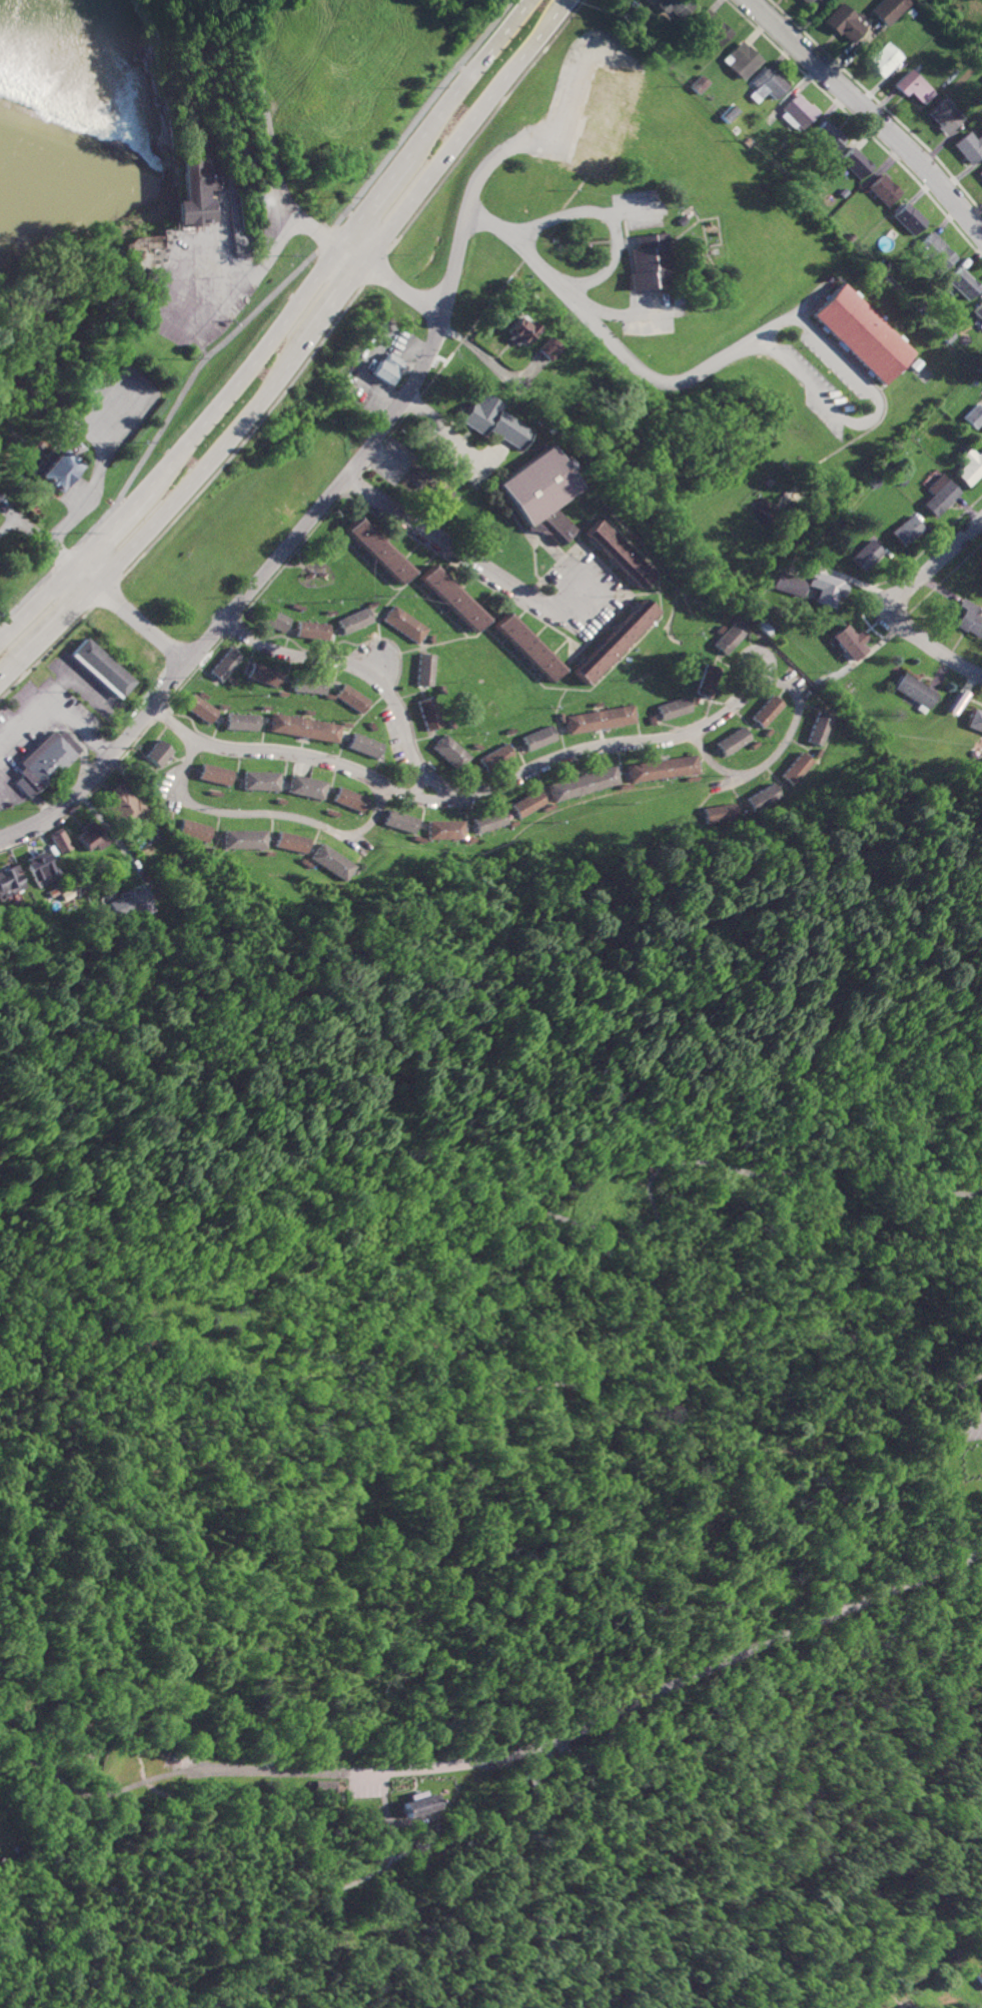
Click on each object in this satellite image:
building: (673, 6)
building: (886, 9)
road: (782, 13)
building: (842, 23)
building: (711, 26)
building: (882, 58)
building: (738, 59)
building: (696, 84)
building: (765, 84)
building: (910, 86)
building: (796, 110)
building: (725, 113)
road: (868, 114)
building: (942, 116)
building: (604, 118)
building: (826, 135)
building: (968, 146)
road: (276, 154)
building: (853, 162)
building: (980, 173)
building: (882, 189)
building: (197, 190)
road: (607, 216)
building: (908, 218)
building: (678, 220)
building: (143, 242)
building: (934, 250)
road: (269, 255)
building: (647, 262)
road: (370, 265)
building: (962, 283)
building: (676, 297)
building: (978, 310)
road: (255, 311)
road: (164, 319)
road: (277, 330)
building: (521, 330)
building: (861, 332)
road: (740, 344)
building: (550, 348)
road: (297, 350)
road: (305, 360)
building: (386, 367)
parking lot: (113, 408)
building: (972, 416)
building: (492, 420)
building: (981, 427)
building: (53, 465)
building: (968, 465)
building: (535, 485)
building: (937, 494)
road: (86, 502)
road: (298, 529)
building: (904, 530)
road: (38, 538)
road: (438, 540)
building: (375, 550)
building: (616, 554)
building: (865, 554)
building: (981, 572)
building: (788, 584)
building: (826, 588)
parking lot: (577, 593)
building: (450, 597)
road: (893, 602)
road: (130, 612)
building: (969, 619)
building: (271, 620)
building: (351, 620)
building: (401, 624)
building: (309, 630)
building: (728, 638)
building: (613, 641)
building: (849, 642)
building: (525, 646)
building: (223, 664)
building: (100, 667)
building: (422, 669)
road: (365, 672)
building: (261, 674)
building: (707, 683)
building: (308, 685)
building: (913, 690)
building: (349, 698)
road: (55, 705)
building: (198, 708)
building: (672, 708)
building: (765, 711)
building: (426, 713)
building: (598, 719)
building: (973, 720)
building: (240, 721)
road: (171, 723)
building: (303, 727)
building: (817, 728)
building: (537, 738)
building: (731, 740)
building: (362, 745)
building: (449, 751)
building: (156, 752)
road: (773, 754)
building: (494, 756)
building: (42, 762)
building: (660, 768)
building: (794, 768)
building: (213, 774)
building: (259, 780)
building: (582, 783)
road: (419, 784)
building: (304, 786)
road: (486, 792)
building: (760, 797)
building: (347, 799)
building: (526, 803)
building: (123, 806)
building: (716, 813)
road: (272, 814)
building: (487, 820)
building: (398, 821)
building: (443, 829)
building: (191, 830)
building: (89, 837)
building: (241, 839)
building: (59, 841)
building: (288, 842)
building: (329, 861)
building: (37, 869)
building: (9, 880)
building: (129, 902)
road: (638, 1233)
road: (264, 1373)
road: (744, 1413)
road: (980, 1415)
park: (502, 1423)
parking lot: (972, 1423)
road: (675, 1495)
road: (579, 1524)
road: (237, 1564)
road: (686, 1682)
road: (9, 1683)
road: (94, 1716)
road: (169, 1771)
road: (364, 1774)
building: (536, 1777)
building: (419, 1803)
road: (301, 1914)
building: (981, 1975)
building: (913, 2005)

